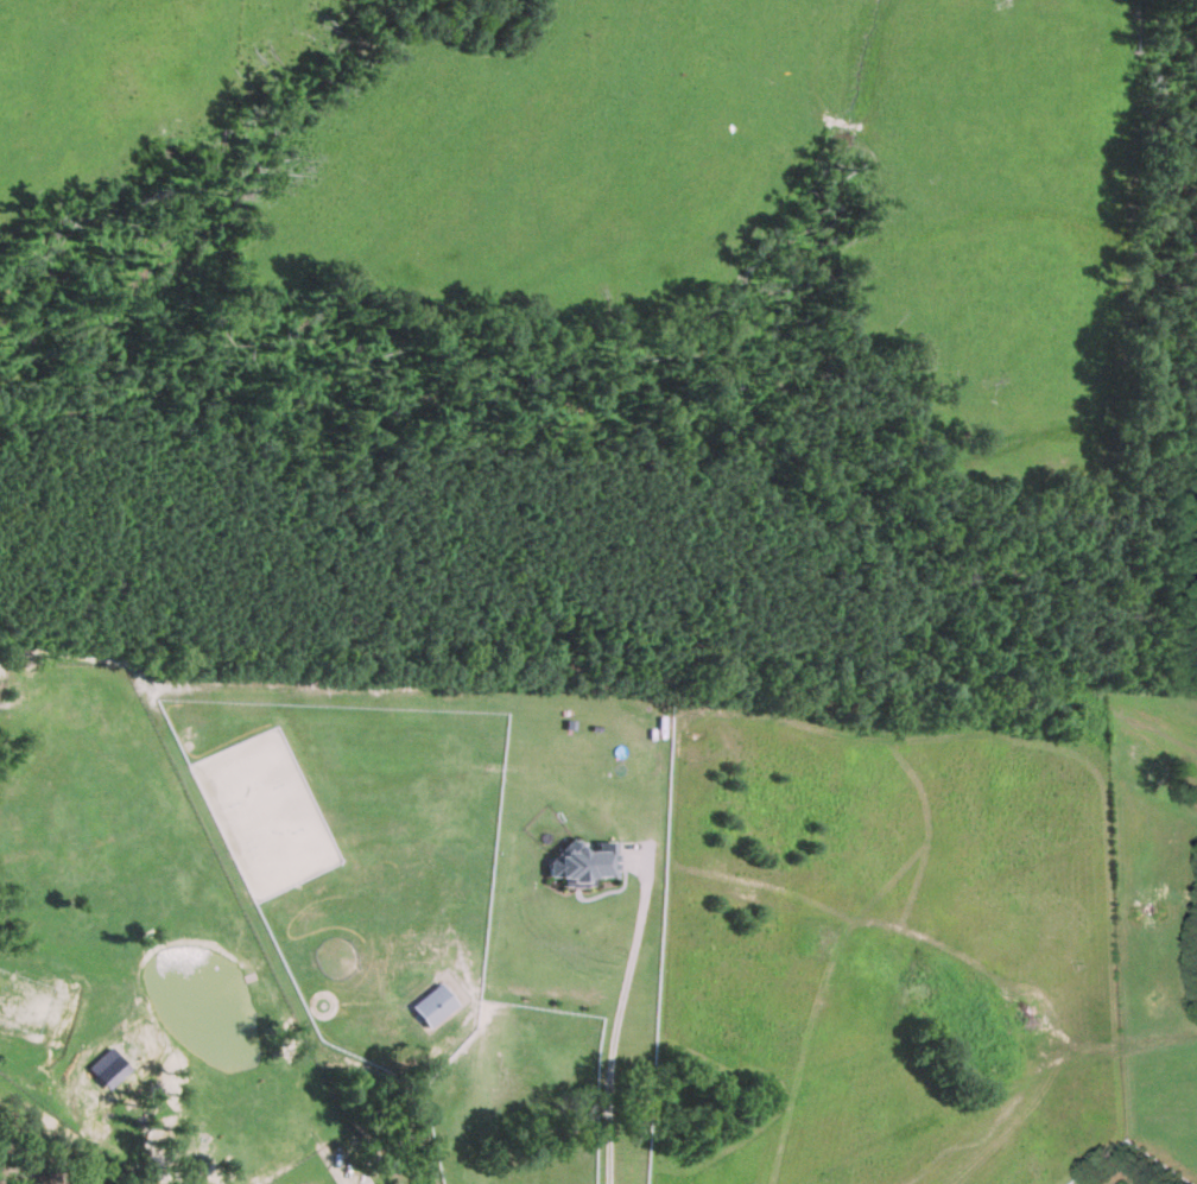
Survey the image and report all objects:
building: (583, 862)
building: (433, 1003)
road: (619, 1017)
building: (112, 1070)

